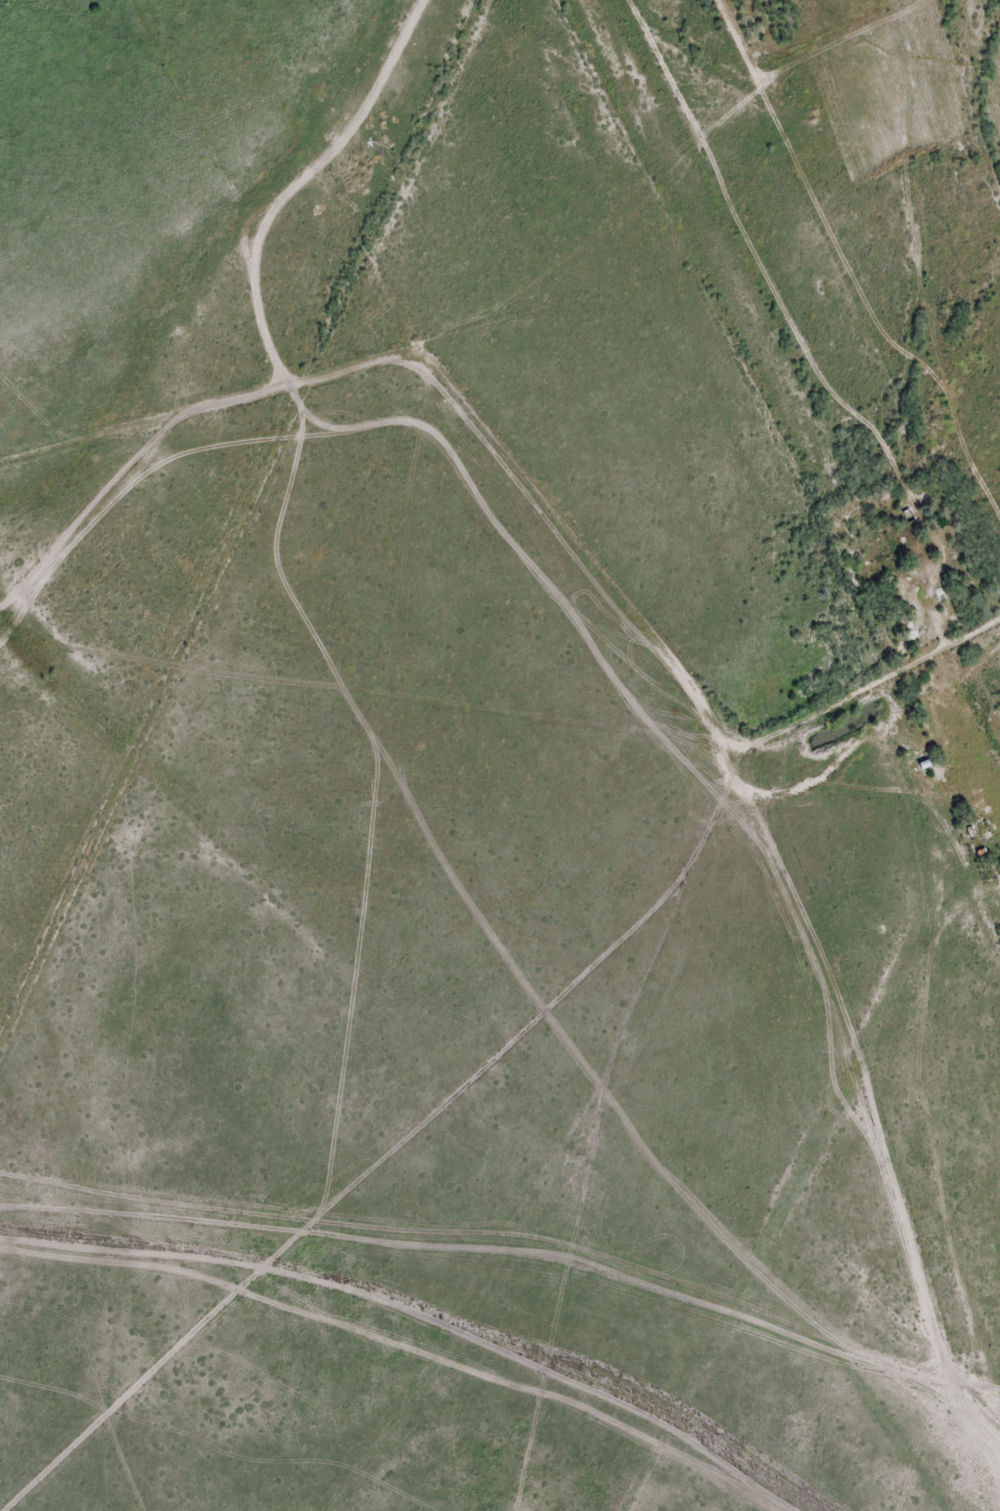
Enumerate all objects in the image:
road: (279, 351)

